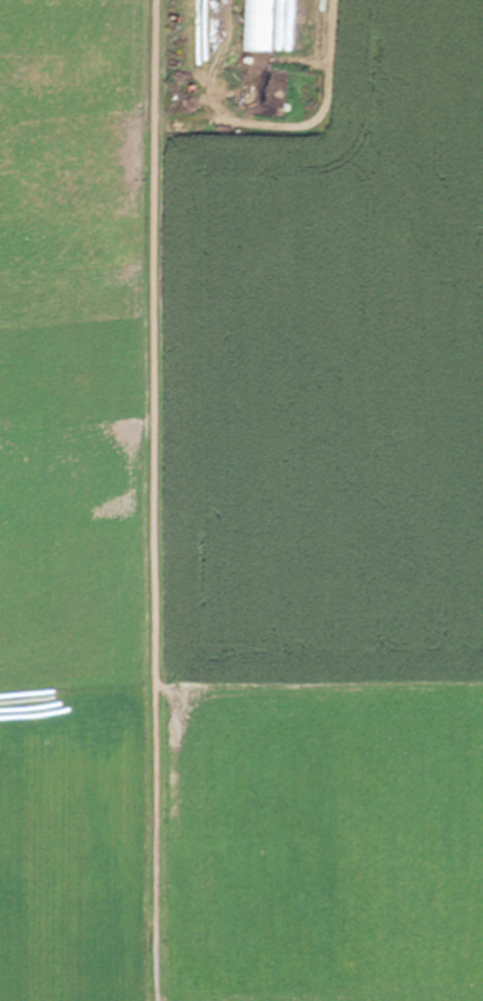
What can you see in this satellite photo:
building: (260, 25)

